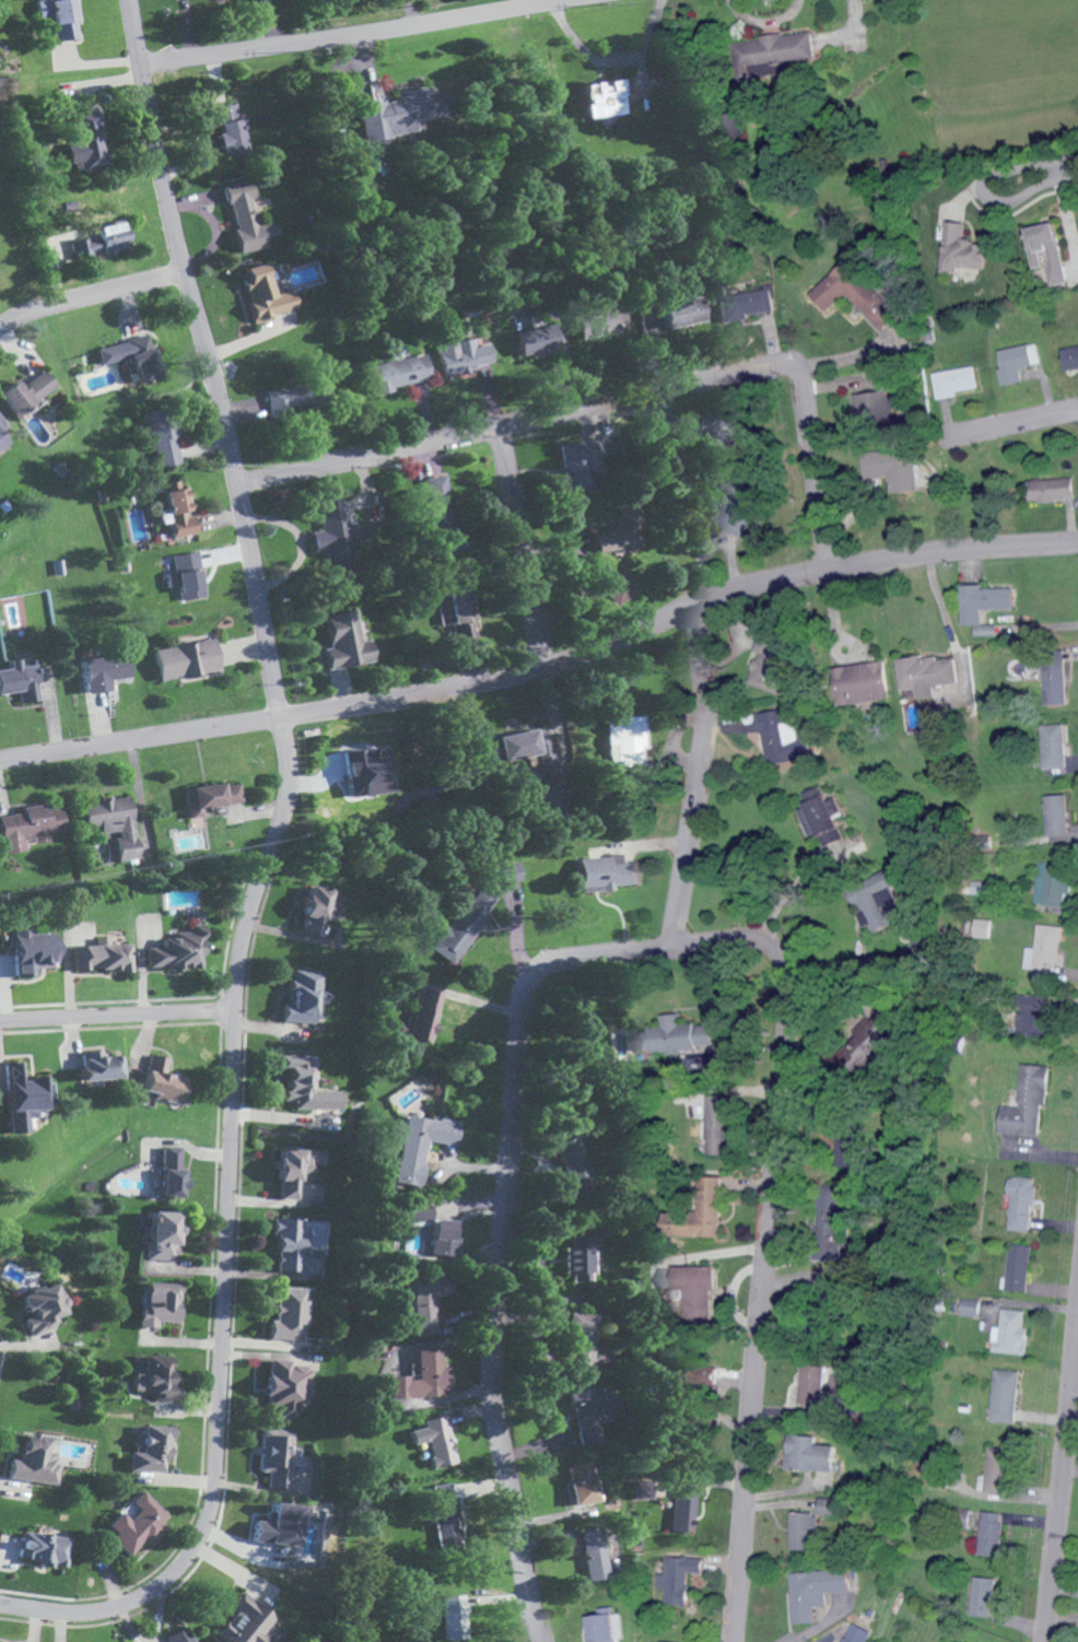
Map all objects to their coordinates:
road: (596, 0)
road: (405, 15)
building: (61, 16)
road: (188, 30)
road: (372, 35)
building: (776, 50)
road: (612, 62)
building: (605, 97)
building: (398, 113)
building: (231, 130)
building: (89, 140)
road: (1069, 167)
road: (989, 198)
building: (247, 218)
building: (82, 243)
building: (1050, 250)
building: (962, 251)
road: (85, 293)
building: (266, 294)
building: (854, 294)
building: (742, 304)
building: (673, 316)
building: (598, 324)
building: (532, 336)
building: (462, 355)
building: (132, 356)
building: (1071, 357)
building: (1018, 361)
building: (399, 373)
building: (953, 382)
building: (26, 392)
building: (296, 398)
road: (611, 403)
building: (876, 404)
road: (1011, 427)
building: (715, 435)
building: (3, 436)
building: (163, 436)
building: (581, 462)
building: (894, 468)
building: (1051, 490)
building: (738, 504)
building: (177, 509)
building: (442, 517)
building: (620, 533)
building: (332, 537)
road: (519, 550)
building: (186, 576)
building: (618, 585)
building: (985, 606)
building: (460, 610)
building: (642, 630)
building: (345, 642)
building: (186, 660)
building: (773, 664)
road: (544, 669)
building: (104, 672)
building: (929, 675)
building: (20, 681)
building: (864, 683)
building: (1057, 684)
building: (782, 736)
building: (626, 743)
building: (1057, 746)
building: (523, 748)
building: (367, 773)
road: (694, 784)
building: (209, 799)
building: (553, 802)
building: (822, 816)
building: (1061, 816)
building: (113, 823)
building: (30, 826)
building: (506, 872)
building: (606, 873)
road: (260, 876)
building: (1055, 883)
road: (782, 896)
building: (318, 907)
building: (883, 910)
building: (467, 923)
building: (985, 928)
building: (33, 950)
building: (1046, 952)
building: (102, 954)
road: (661, 955)
building: (304, 996)
building: (419, 1014)
building: (1034, 1014)
road: (116, 1019)
building: (884, 1025)
building: (677, 1035)
building: (98, 1065)
building: (165, 1080)
building: (307, 1084)
building: (22, 1094)
building: (1027, 1101)
building: (720, 1124)
building: (845, 1136)
building: (421, 1145)
building: (572, 1163)
building: (296, 1169)
building: (171, 1171)
building: (1022, 1201)
building: (702, 1211)
building: (834, 1218)
building: (161, 1234)
building: (443, 1235)
building: (289, 1242)
building: (578, 1256)
building: (1020, 1266)
building: (699, 1289)
building: (425, 1300)
building: (160, 1303)
building: (970, 1305)
building: (42, 1306)
building: (986, 1310)
building: (288, 1313)
building: (1011, 1332)
building: (578, 1341)
building: (154, 1376)
building: (423, 1377)
building: (827, 1382)
building: (701, 1385)
building: (289, 1386)
building: (1005, 1395)
building: (587, 1411)
building: (435, 1440)
building: (150, 1449)
building: (812, 1453)
building: (34, 1461)
building: (284, 1461)
building: (997, 1470)
building: (579, 1482)
road: (1063, 1492)
building: (830, 1504)
building: (683, 1509)
building: (448, 1510)
building: (137, 1524)
building: (280, 1525)
building: (805, 1529)
building: (993, 1533)
building: (43, 1548)
building: (596, 1552)
building: (679, 1578)
building: (815, 1591)
building: (984, 1596)
building: (457, 1616)
building: (245, 1621)
building: (599, 1628)
building: (858, 1633)
building: (179, 1635)
building: (658, 1641)

